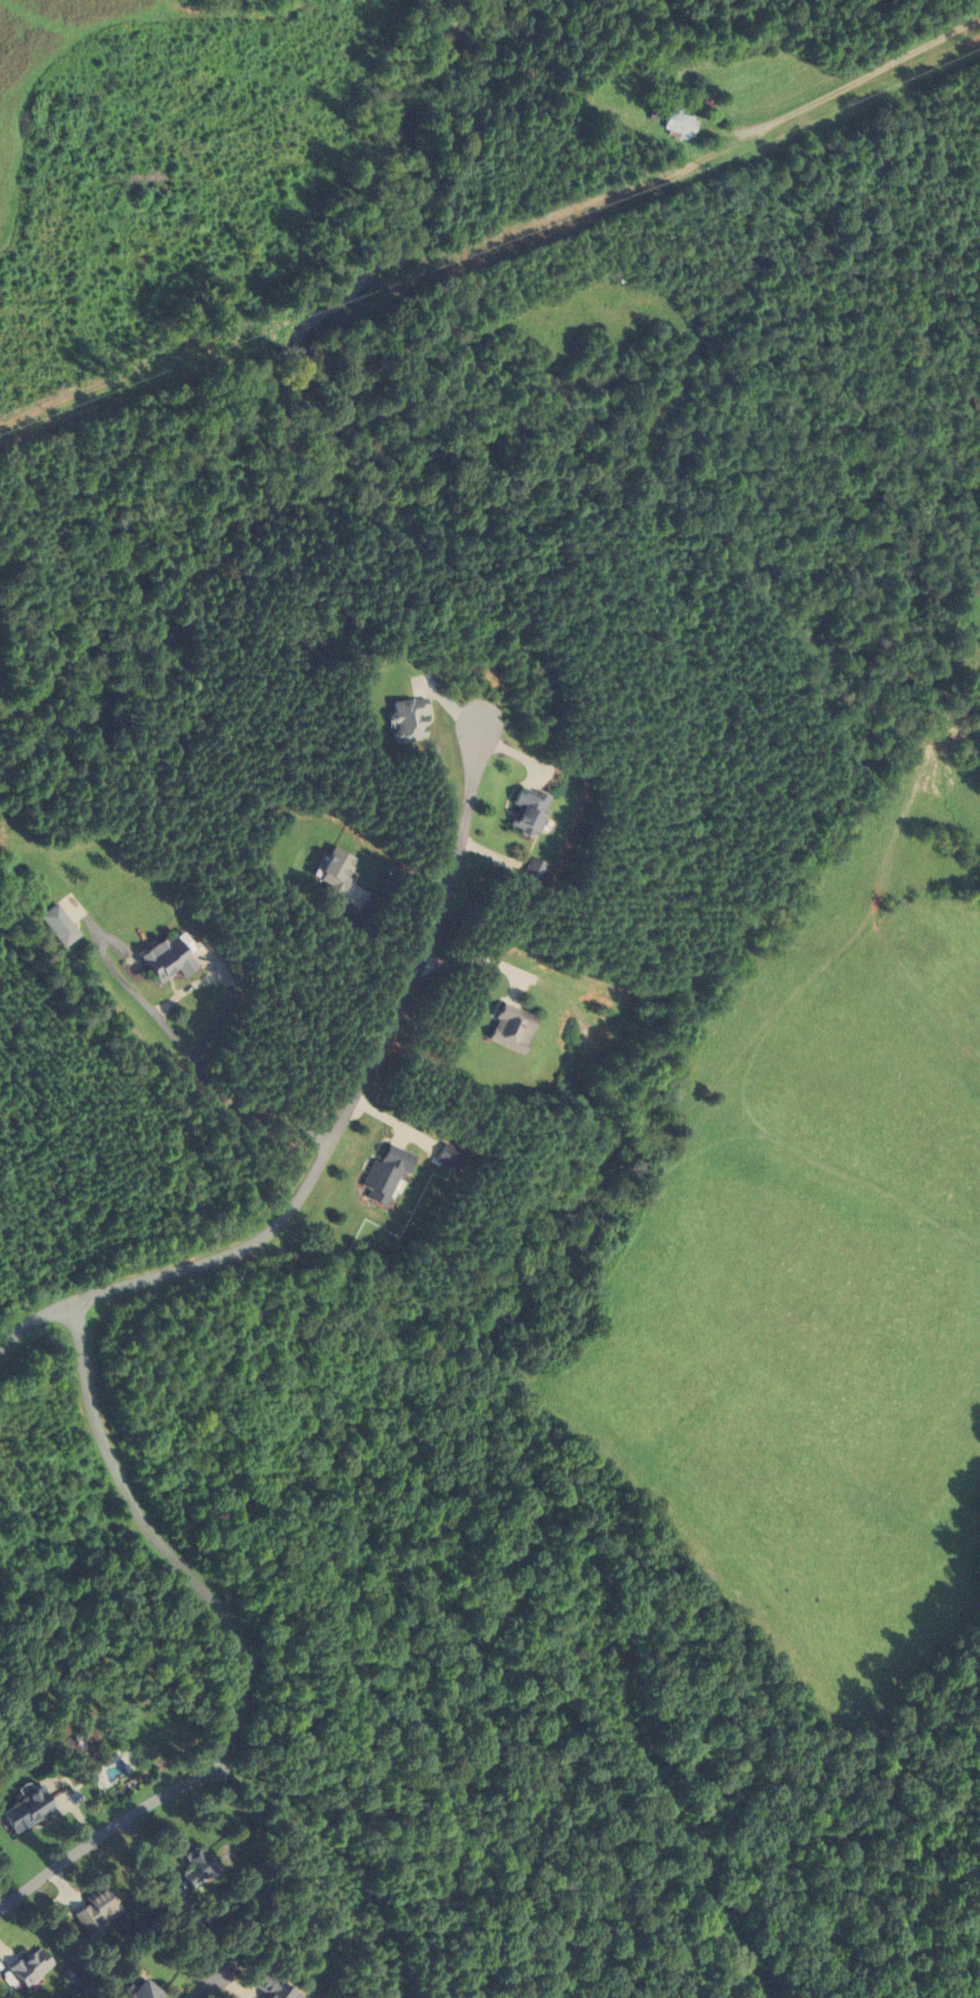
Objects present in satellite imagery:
building: (673, 121)
building: (403, 717)
building: (524, 810)
building: (329, 871)
building: (530, 871)
road: (369, 905)
building: (56, 925)
building: (162, 959)
road: (230, 1003)
building: (506, 1027)
road: (356, 1085)
road: (212, 1088)
building: (448, 1159)
building: (381, 1173)
road: (29, 1323)
road: (159, 1543)
building: (24, 1809)
road: (102, 1831)
building: (194, 1864)
building: (93, 1910)
building: (26, 1964)
road: (207, 1983)
building: (269, 1988)
building: (141, 1990)

